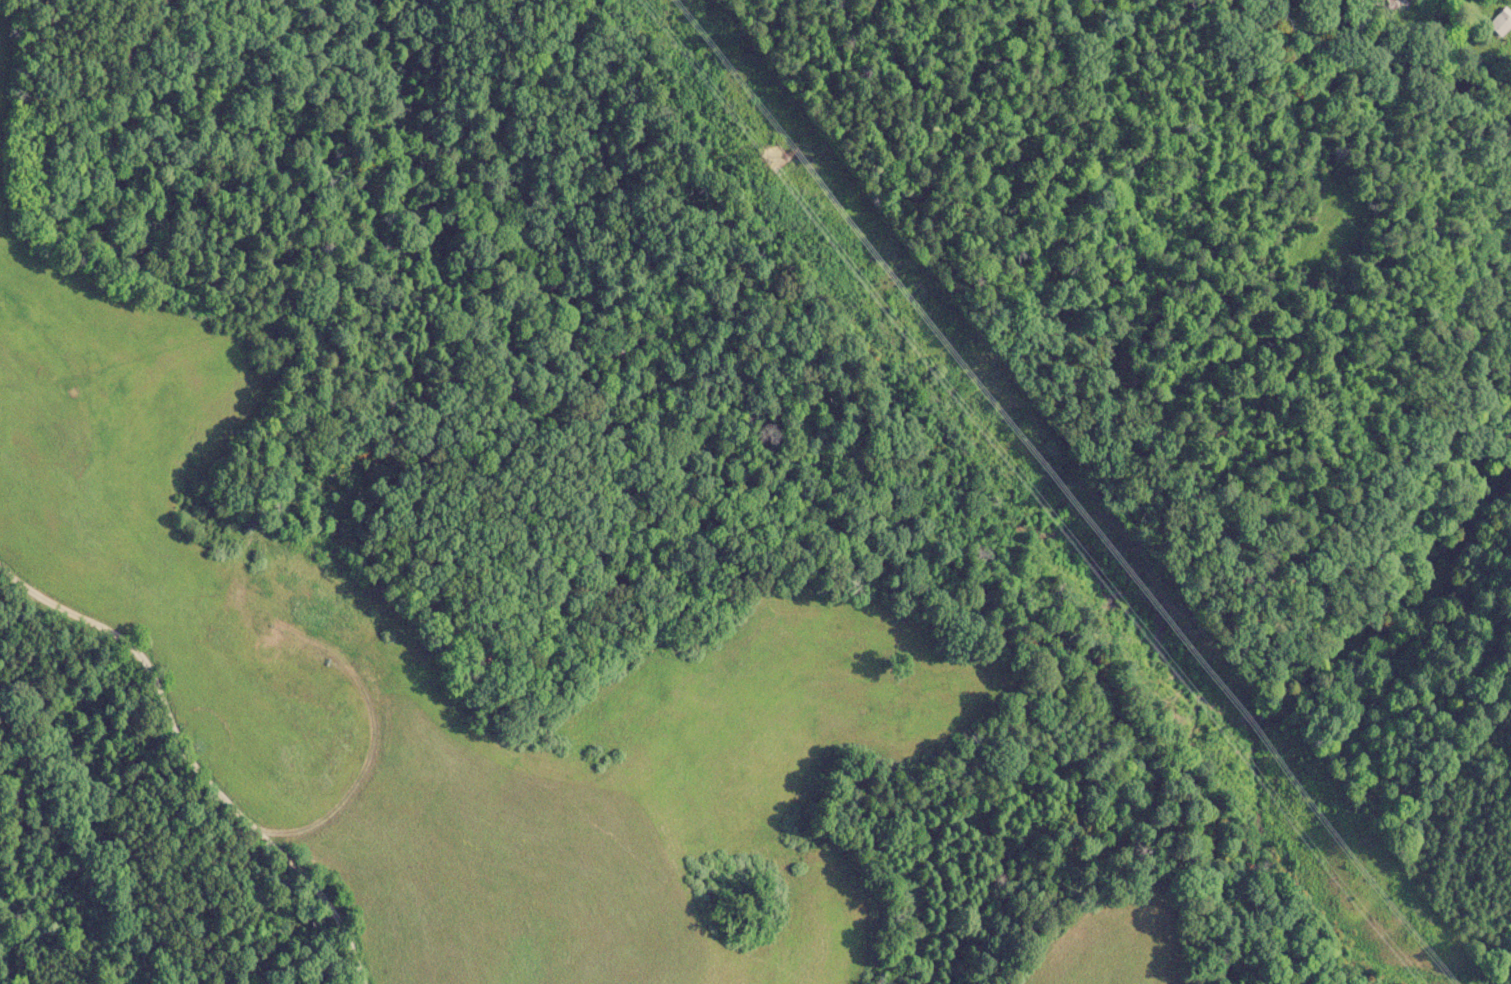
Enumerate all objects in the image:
road: (190, 765)

